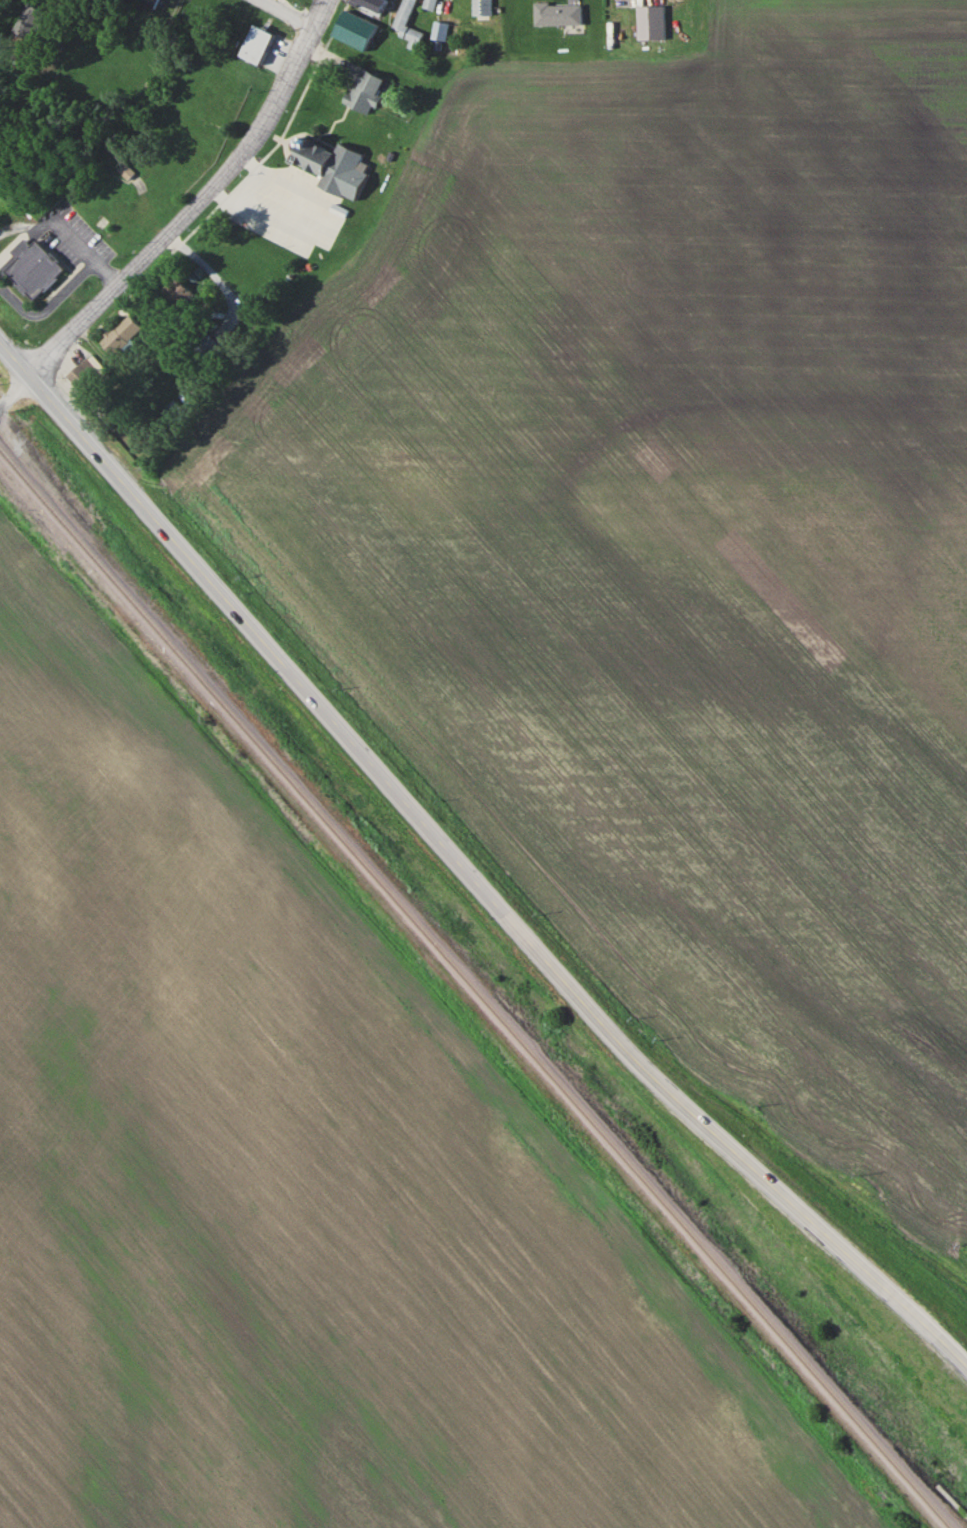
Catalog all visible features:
building: (151, 2)
building: (428, 4)
building: (371, 5)
building: (481, 7)
road: (288, 12)
building: (556, 14)
building: (28, 21)
building: (649, 23)
building: (407, 25)
building: (354, 30)
building: (438, 30)
building: (255, 44)
building: (364, 90)
building: (333, 166)
building: (124, 170)
road: (194, 201)
road: (305, 223)
road: (66, 232)
parking lot: (67, 237)
building: (32, 267)
building: (181, 293)
building: (121, 332)
building: (209, 346)
building: (88, 380)
road: (15, 393)
building: (175, 410)
road: (107, 464)
crop: (673, 550)
railway: (471, 991)
road: (574, 994)

